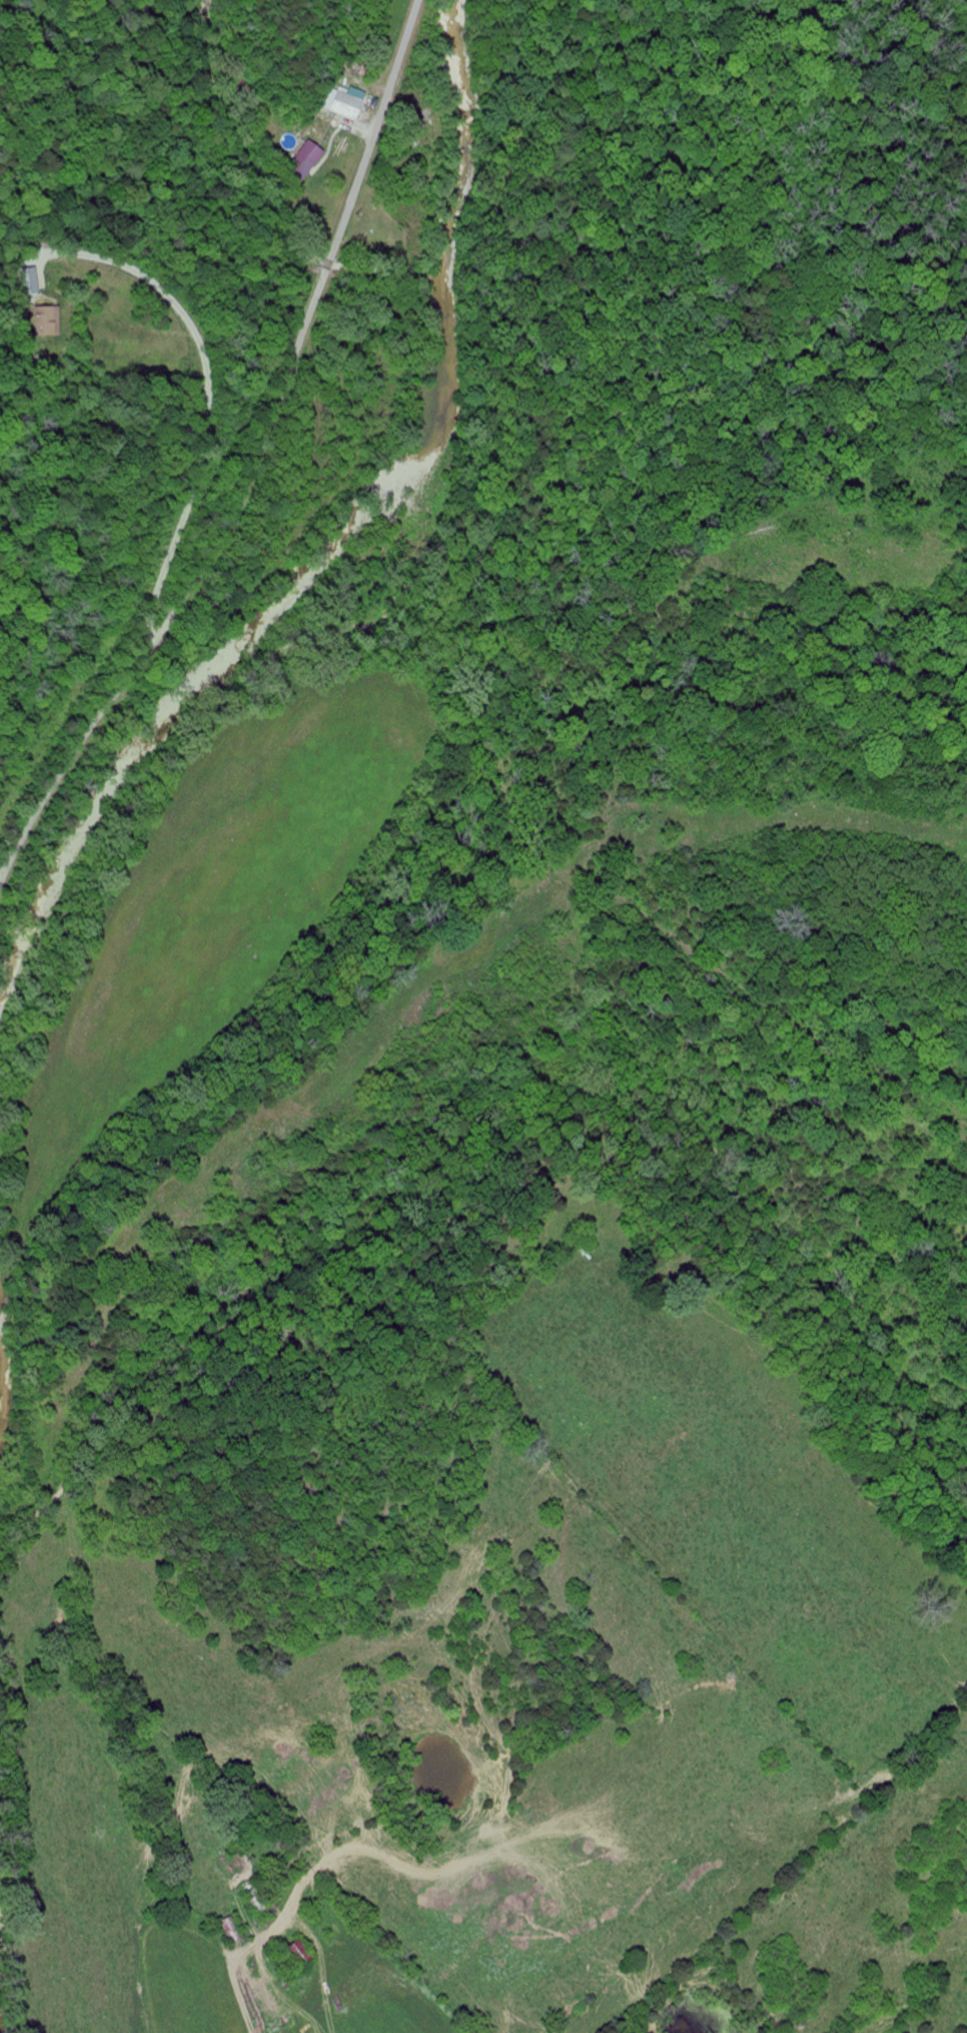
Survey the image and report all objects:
building: (347, 102)
building: (303, 162)
building: (27, 281)
building: (42, 320)
road: (207, 404)
road: (255, 464)

